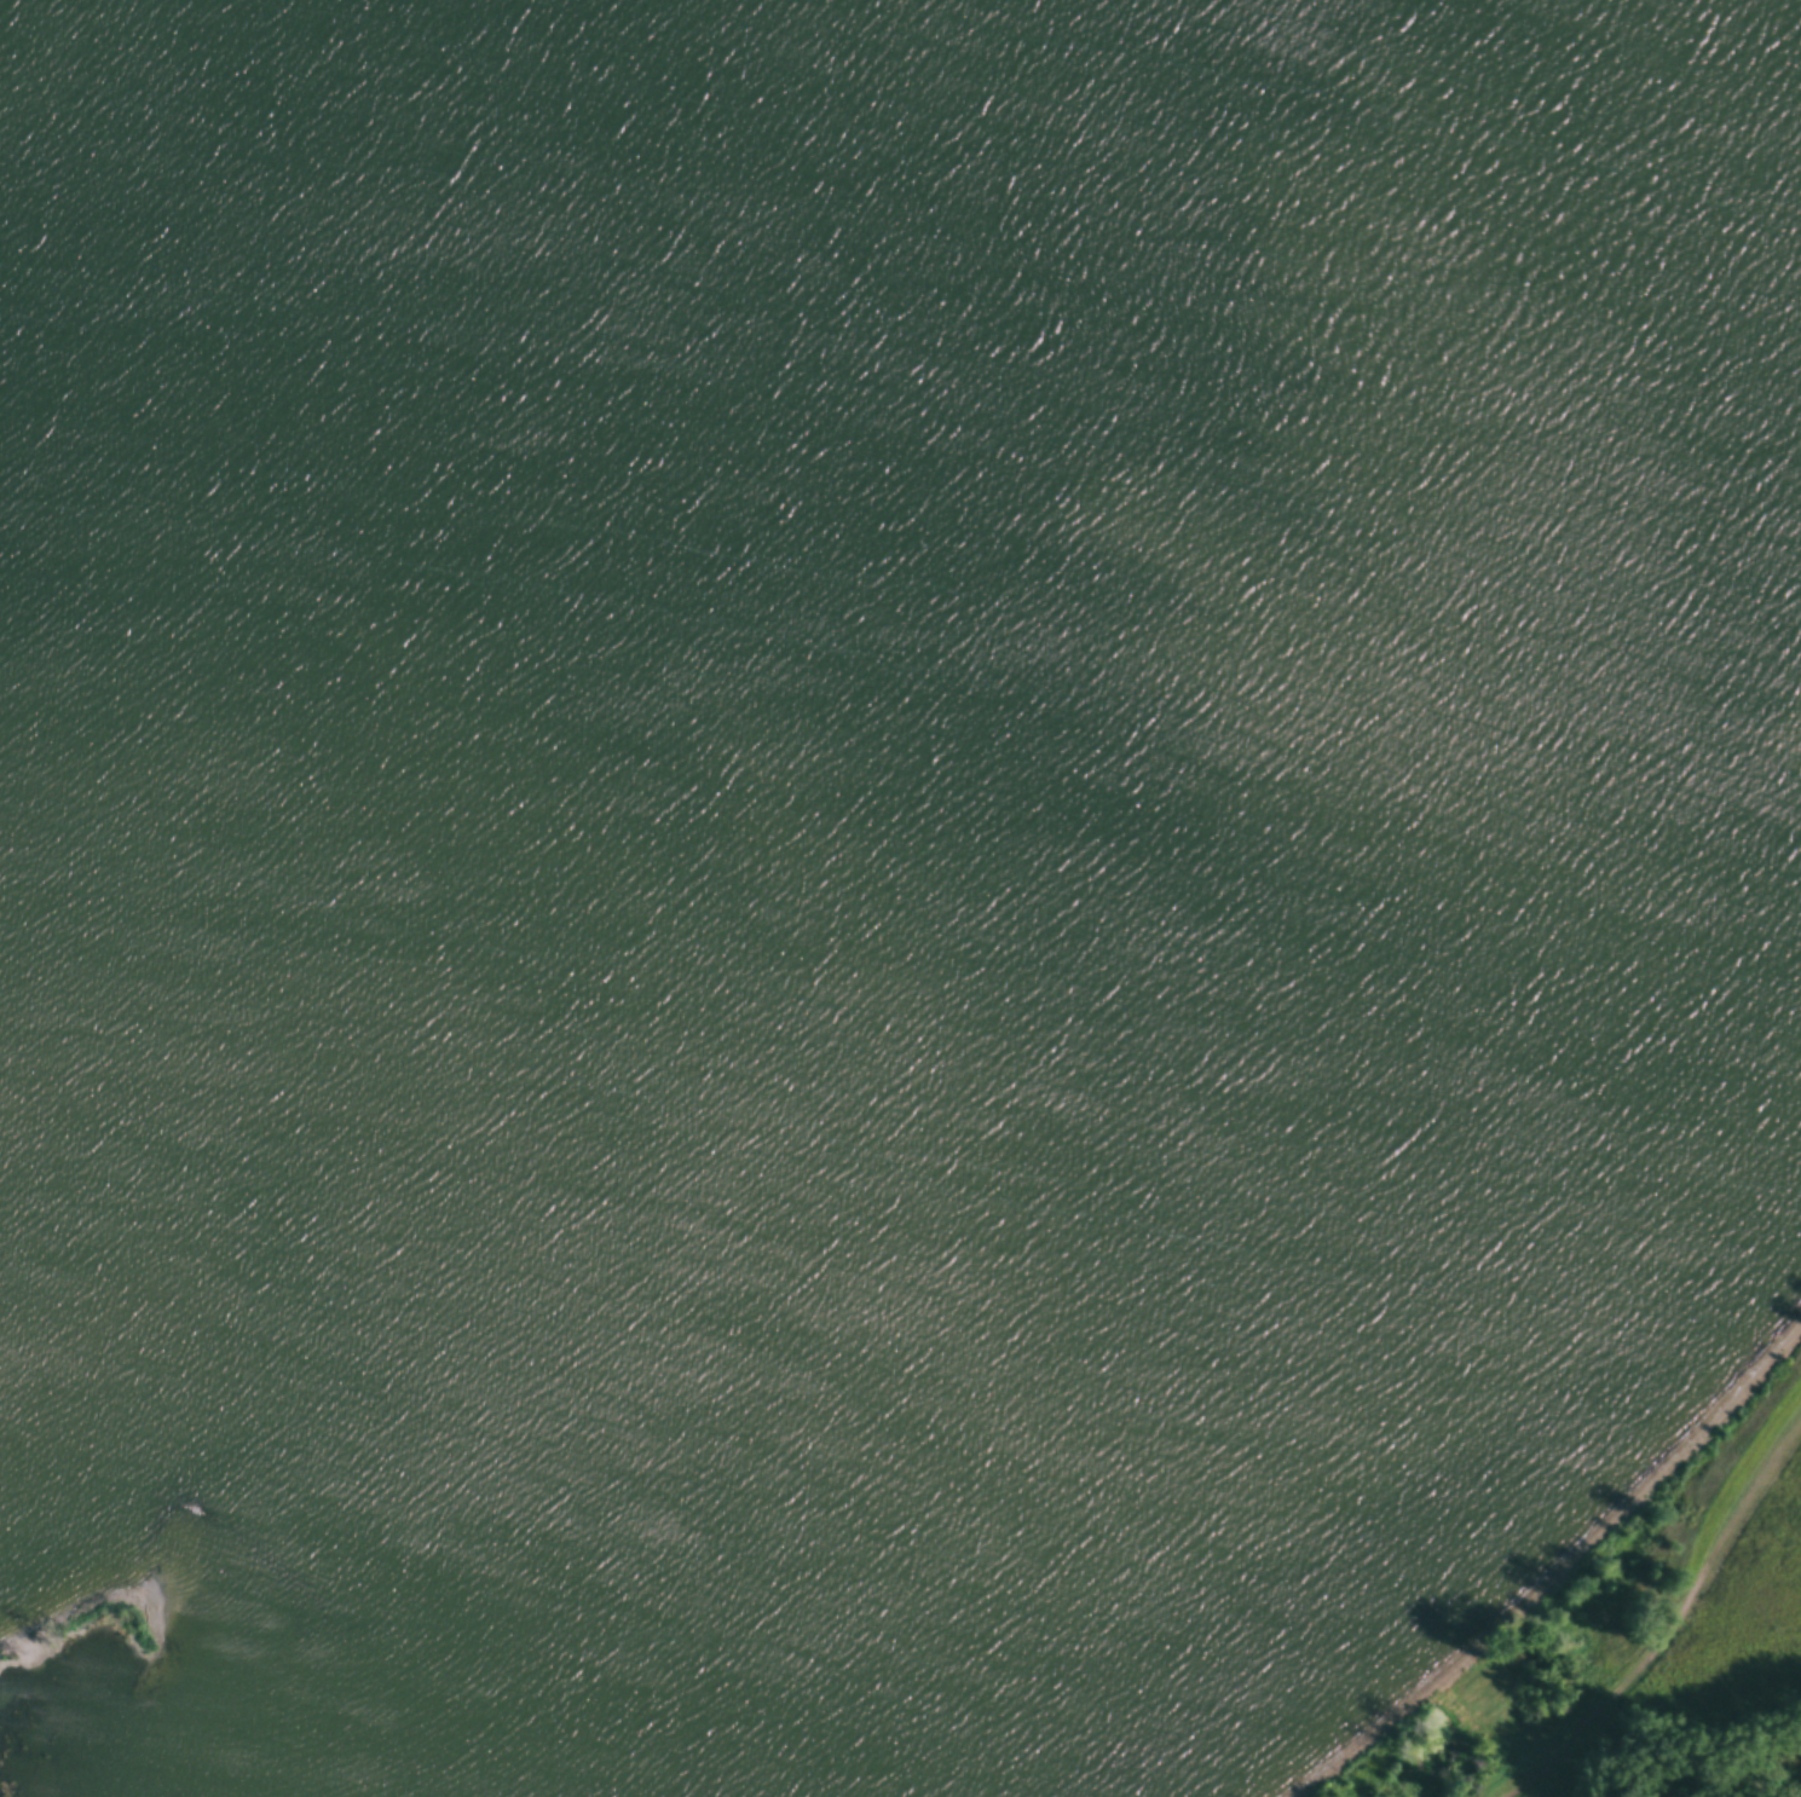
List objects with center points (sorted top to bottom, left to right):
road: (1663, 1610)

